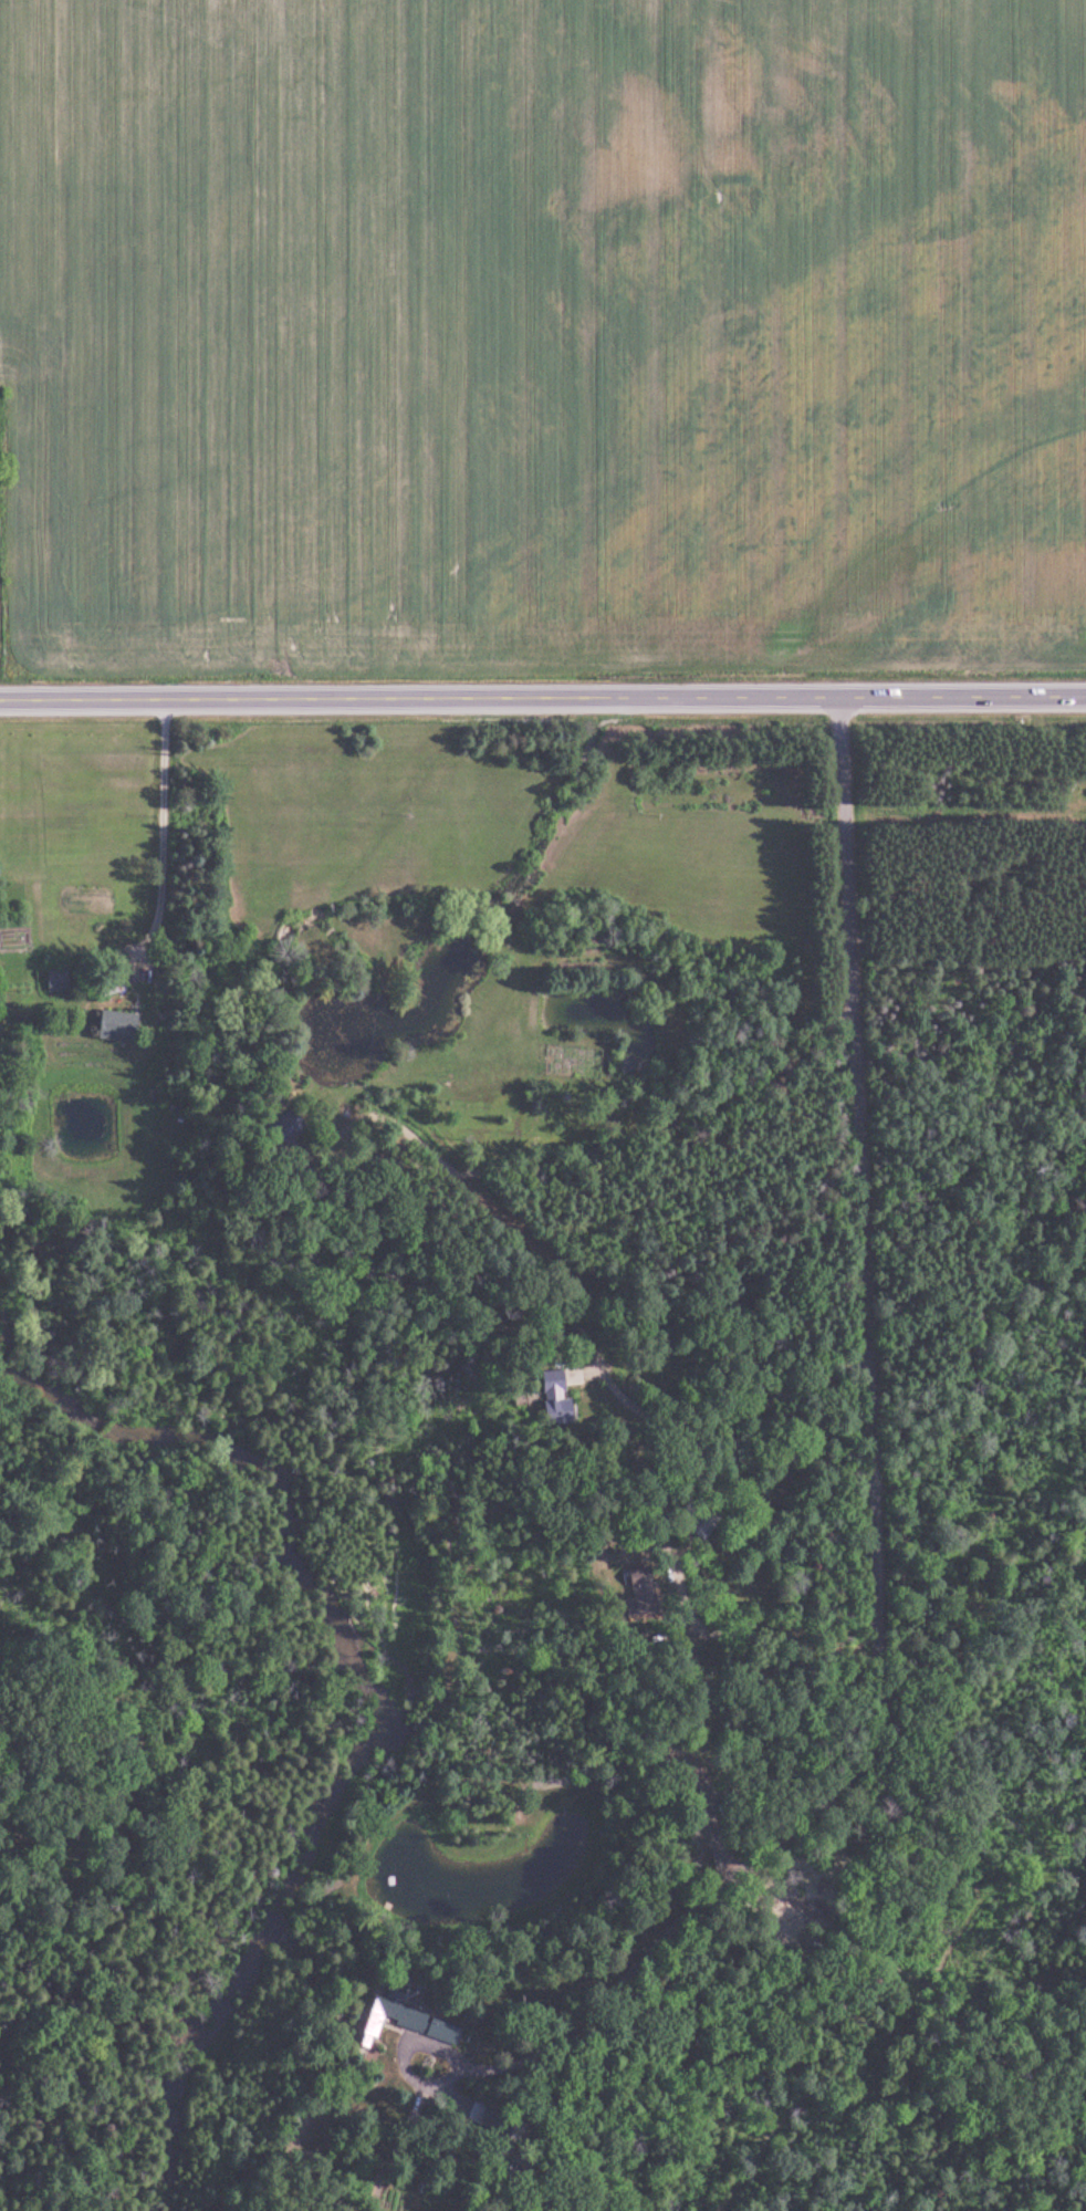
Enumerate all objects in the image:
road: (542, 698)
road: (161, 837)
building: (58, 979)
building: (116, 1025)
building: (285, 1129)
road: (645, 1138)
building: (552, 1395)
road: (877, 1514)
building: (639, 1594)
river: (378, 1700)
building: (407, 2019)

